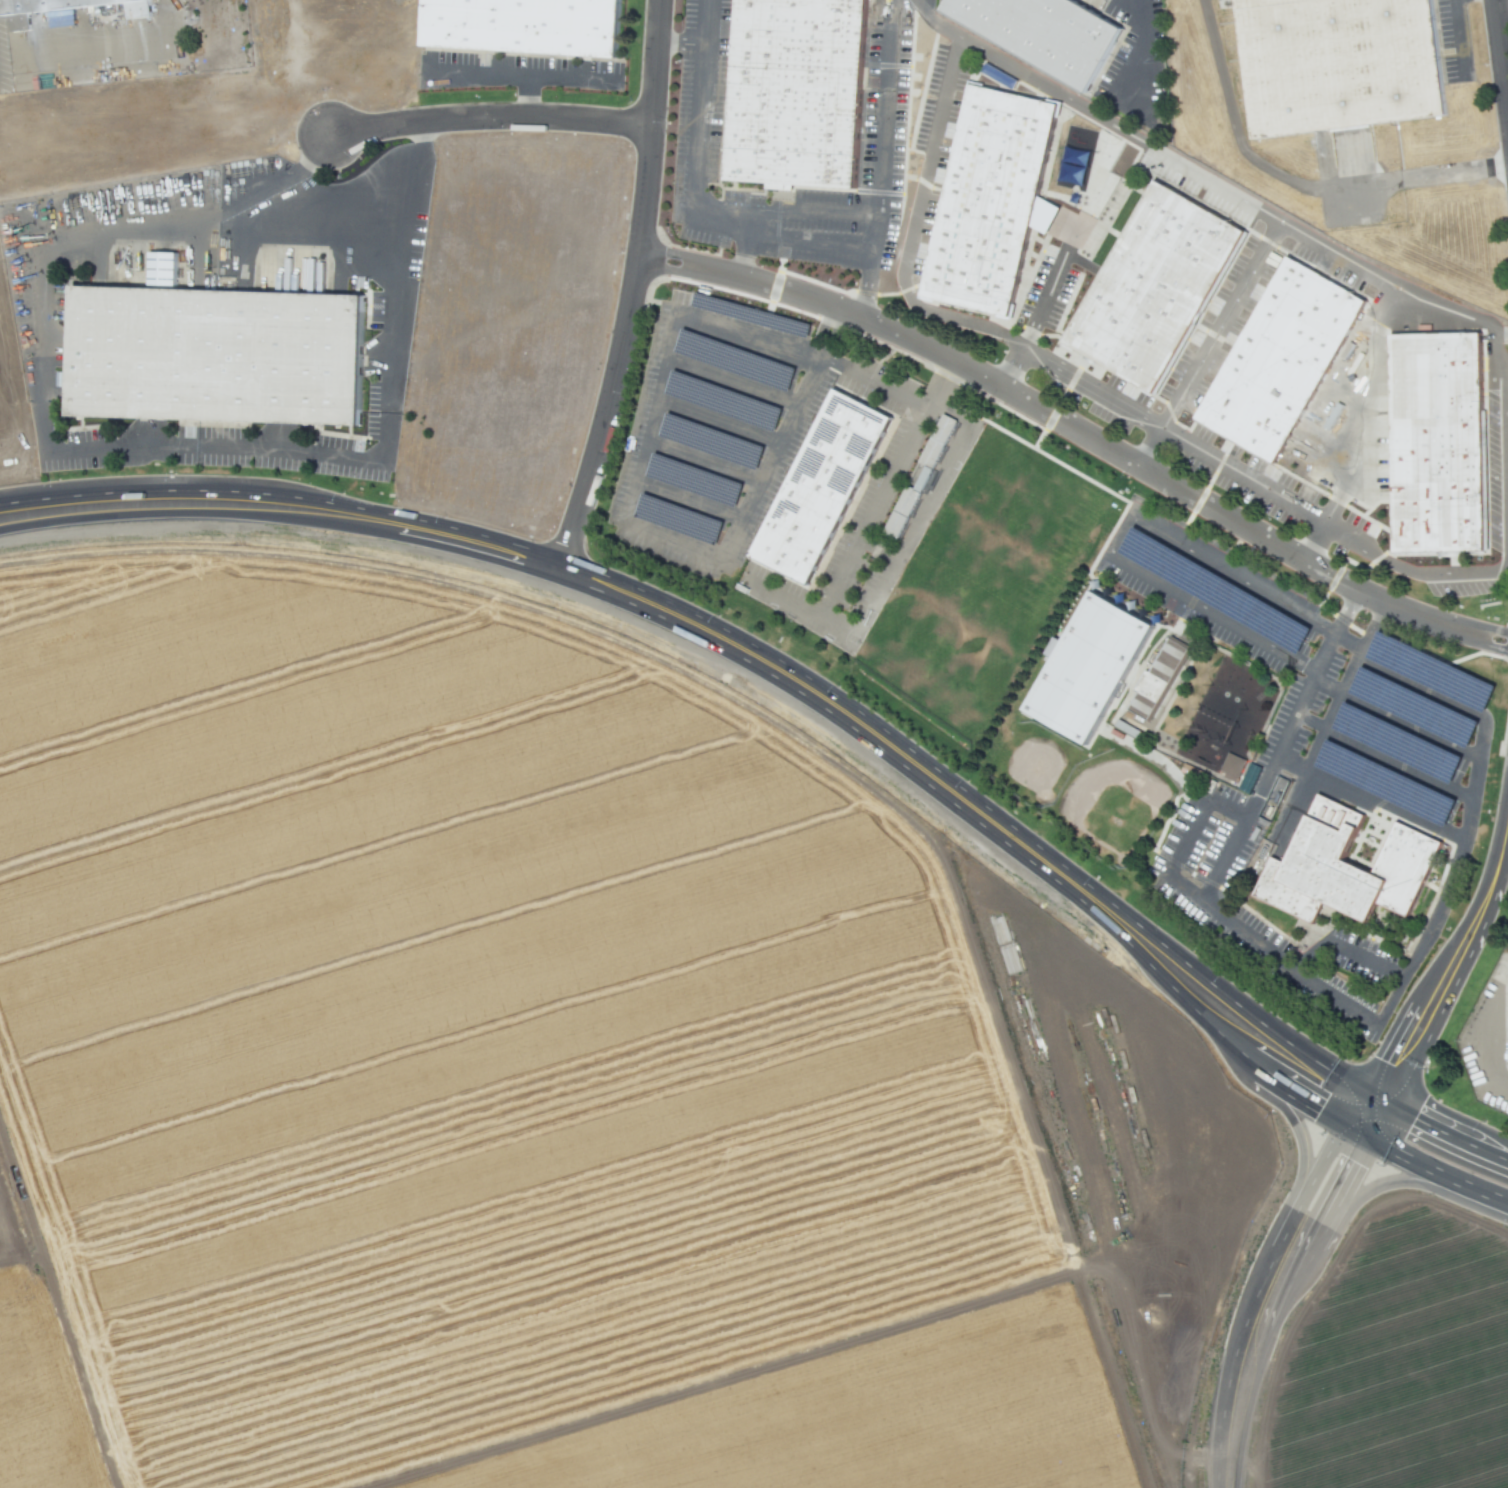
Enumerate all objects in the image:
building: (31, 3)
building: (519, 22)
building: (1043, 34)
road: (681, 45)
road: (1502, 45)
building: (1335, 58)
road: (115, 65)
road: (521, 75)
building: (790, 89)
road: (527, 97)
road: (490, 120)
road: (879, 125)
road: (934, 155)
road: (1105, 158)
road: (1292, 185)
road: (406, 191)
building: (983, 196)
road: (693, 202)
road: (742, 253)
road: (1249, 267)
building: (162, 269)
building: (1150, 282)
road: (636, 283)
road: (866, 284)
building: (211, 352)
building: (1274, 353)
road: (1373, 353)
road: (1068, 373)
building: (754, 412)
road: (1081, 431)
building: (1429, 436)
building: (937, 440)
building: (712, 441)
road: (644, 443)
road: (111, 447)
road: (1152, 447)
road: (1257, 483)
building: (818, 484)
road: (155, 490)
road: (186, 511)
road: (439, 524)
road: (1116, 533)
road: (1505, 535)
road: (466, 547)
road: (561, 567)
road: (1344, 611)
road: (1374, 627)
road: (1347, 644)
building: (1088, 666)
road: (803, 672)
building: (1158, 678)
road: (1326, 688)
road: (1310, 722)
road: (1289, 727)
road: (1410, 728)
road: (1317, 743)
road: (1399, 764)
building: (1231, 765)
road: (1292, 765)
road: (917, 777)
road: (1386, 808)
road: (1471, 813)
road: (1503, 843)
building: (1340, 864)
road: (1494, 867)
road: (1178, 886)
road: (1136, 923)
road: (1344, 948)
road: (1420, 1012)
road: (1312, 1059)
road: (1245, 1060)
road: (1239, 1065)
traffic signals: (1373, 1095)
road: (1305, 1103)
crop: (620, 1106)
road: (1362, 1114)
road: (1425, 1121)
traffic signals: (1351, 1133)
road: (1492, 1153)
road: (1395, 1155)
road: (1302, 1163)
road: (1474, 1191)
road: (1356, 1200)
road: (1330, 1201)
road: (1285, 1231)
road: (1271, 1305)
road: (1236, 1416)

